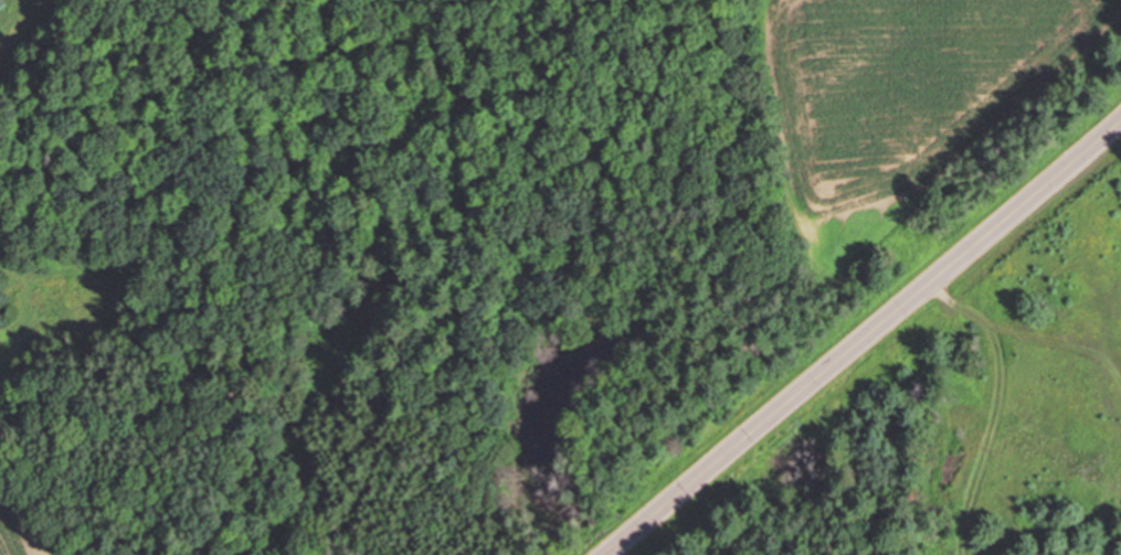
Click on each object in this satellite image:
road: (864, 339)

